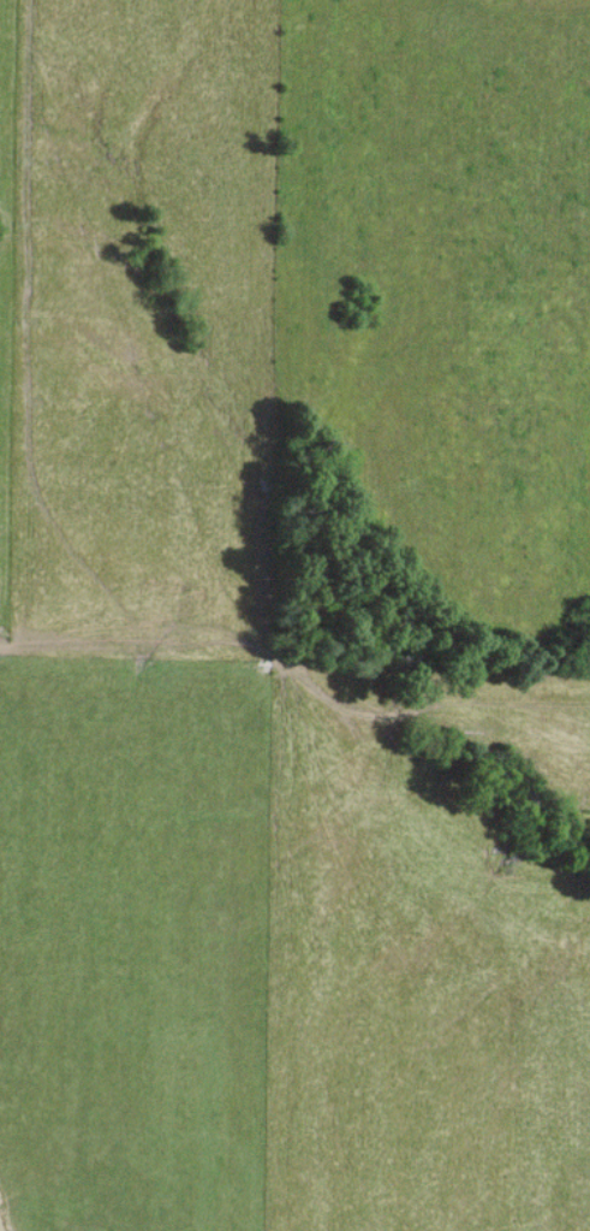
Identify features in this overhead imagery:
road: (524, 11)

